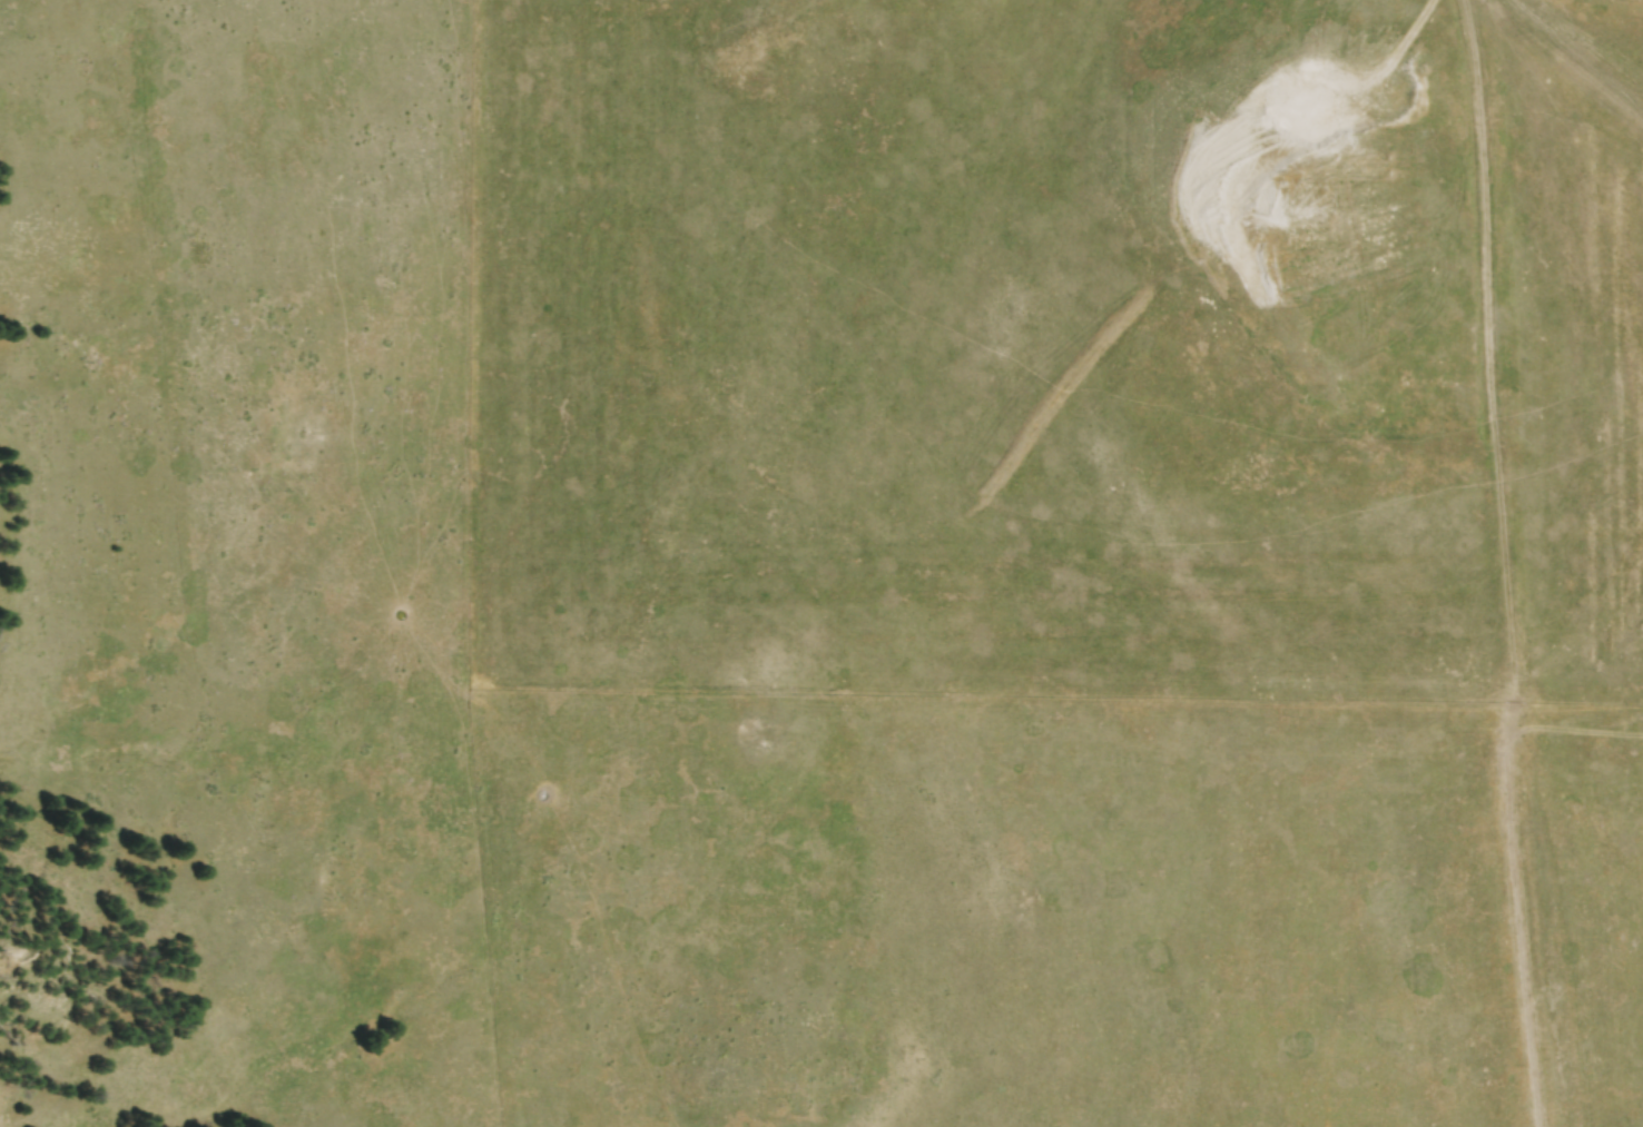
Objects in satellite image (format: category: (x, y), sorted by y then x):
road: (1506, 563)

